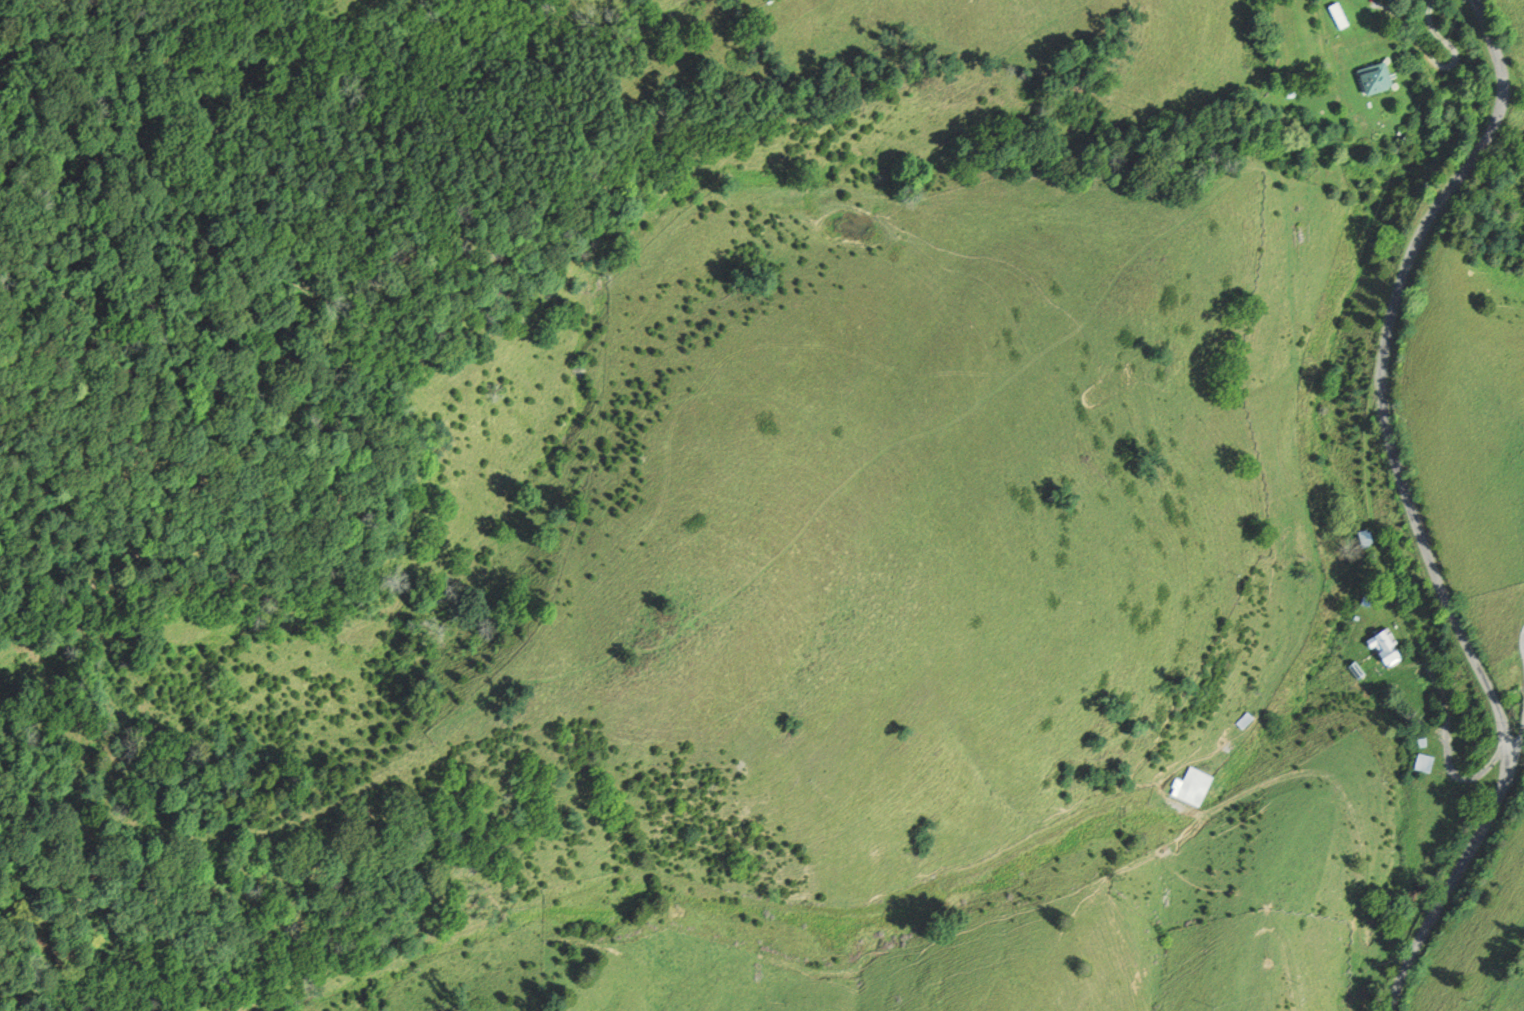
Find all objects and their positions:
building: (1339, 15)
road: (1437, 66)
building: (1378, 78)
road: (1387, 325)
building: (1365, 539)
building: (1369, 594)
building: (1386, 647)
building: (1357, 671)
building: (1424, 743)
road: (1518, 743)
road: (1445, 746)
building: (1426, 763)
building: (1196, 787)
road: (1477, 844)

